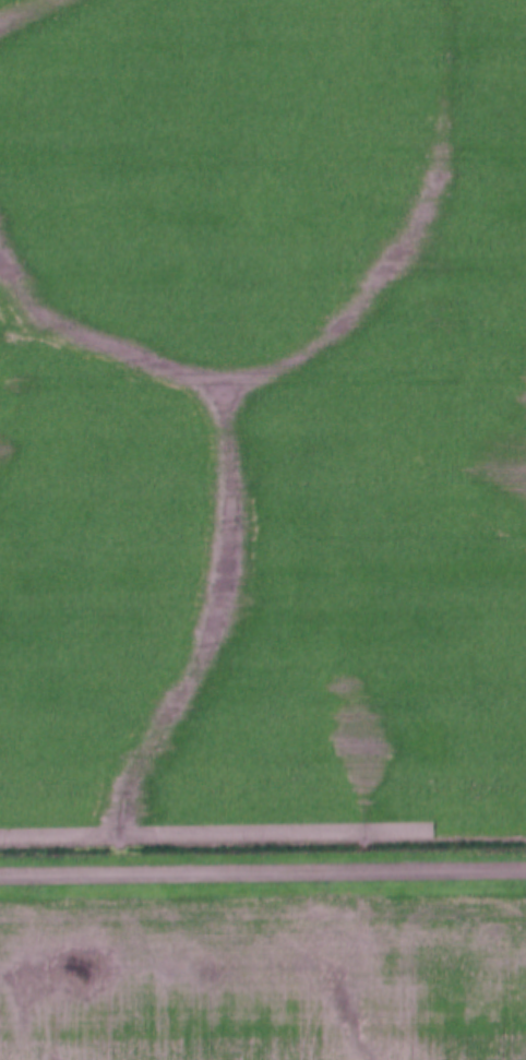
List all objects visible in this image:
road: (263, 880)

